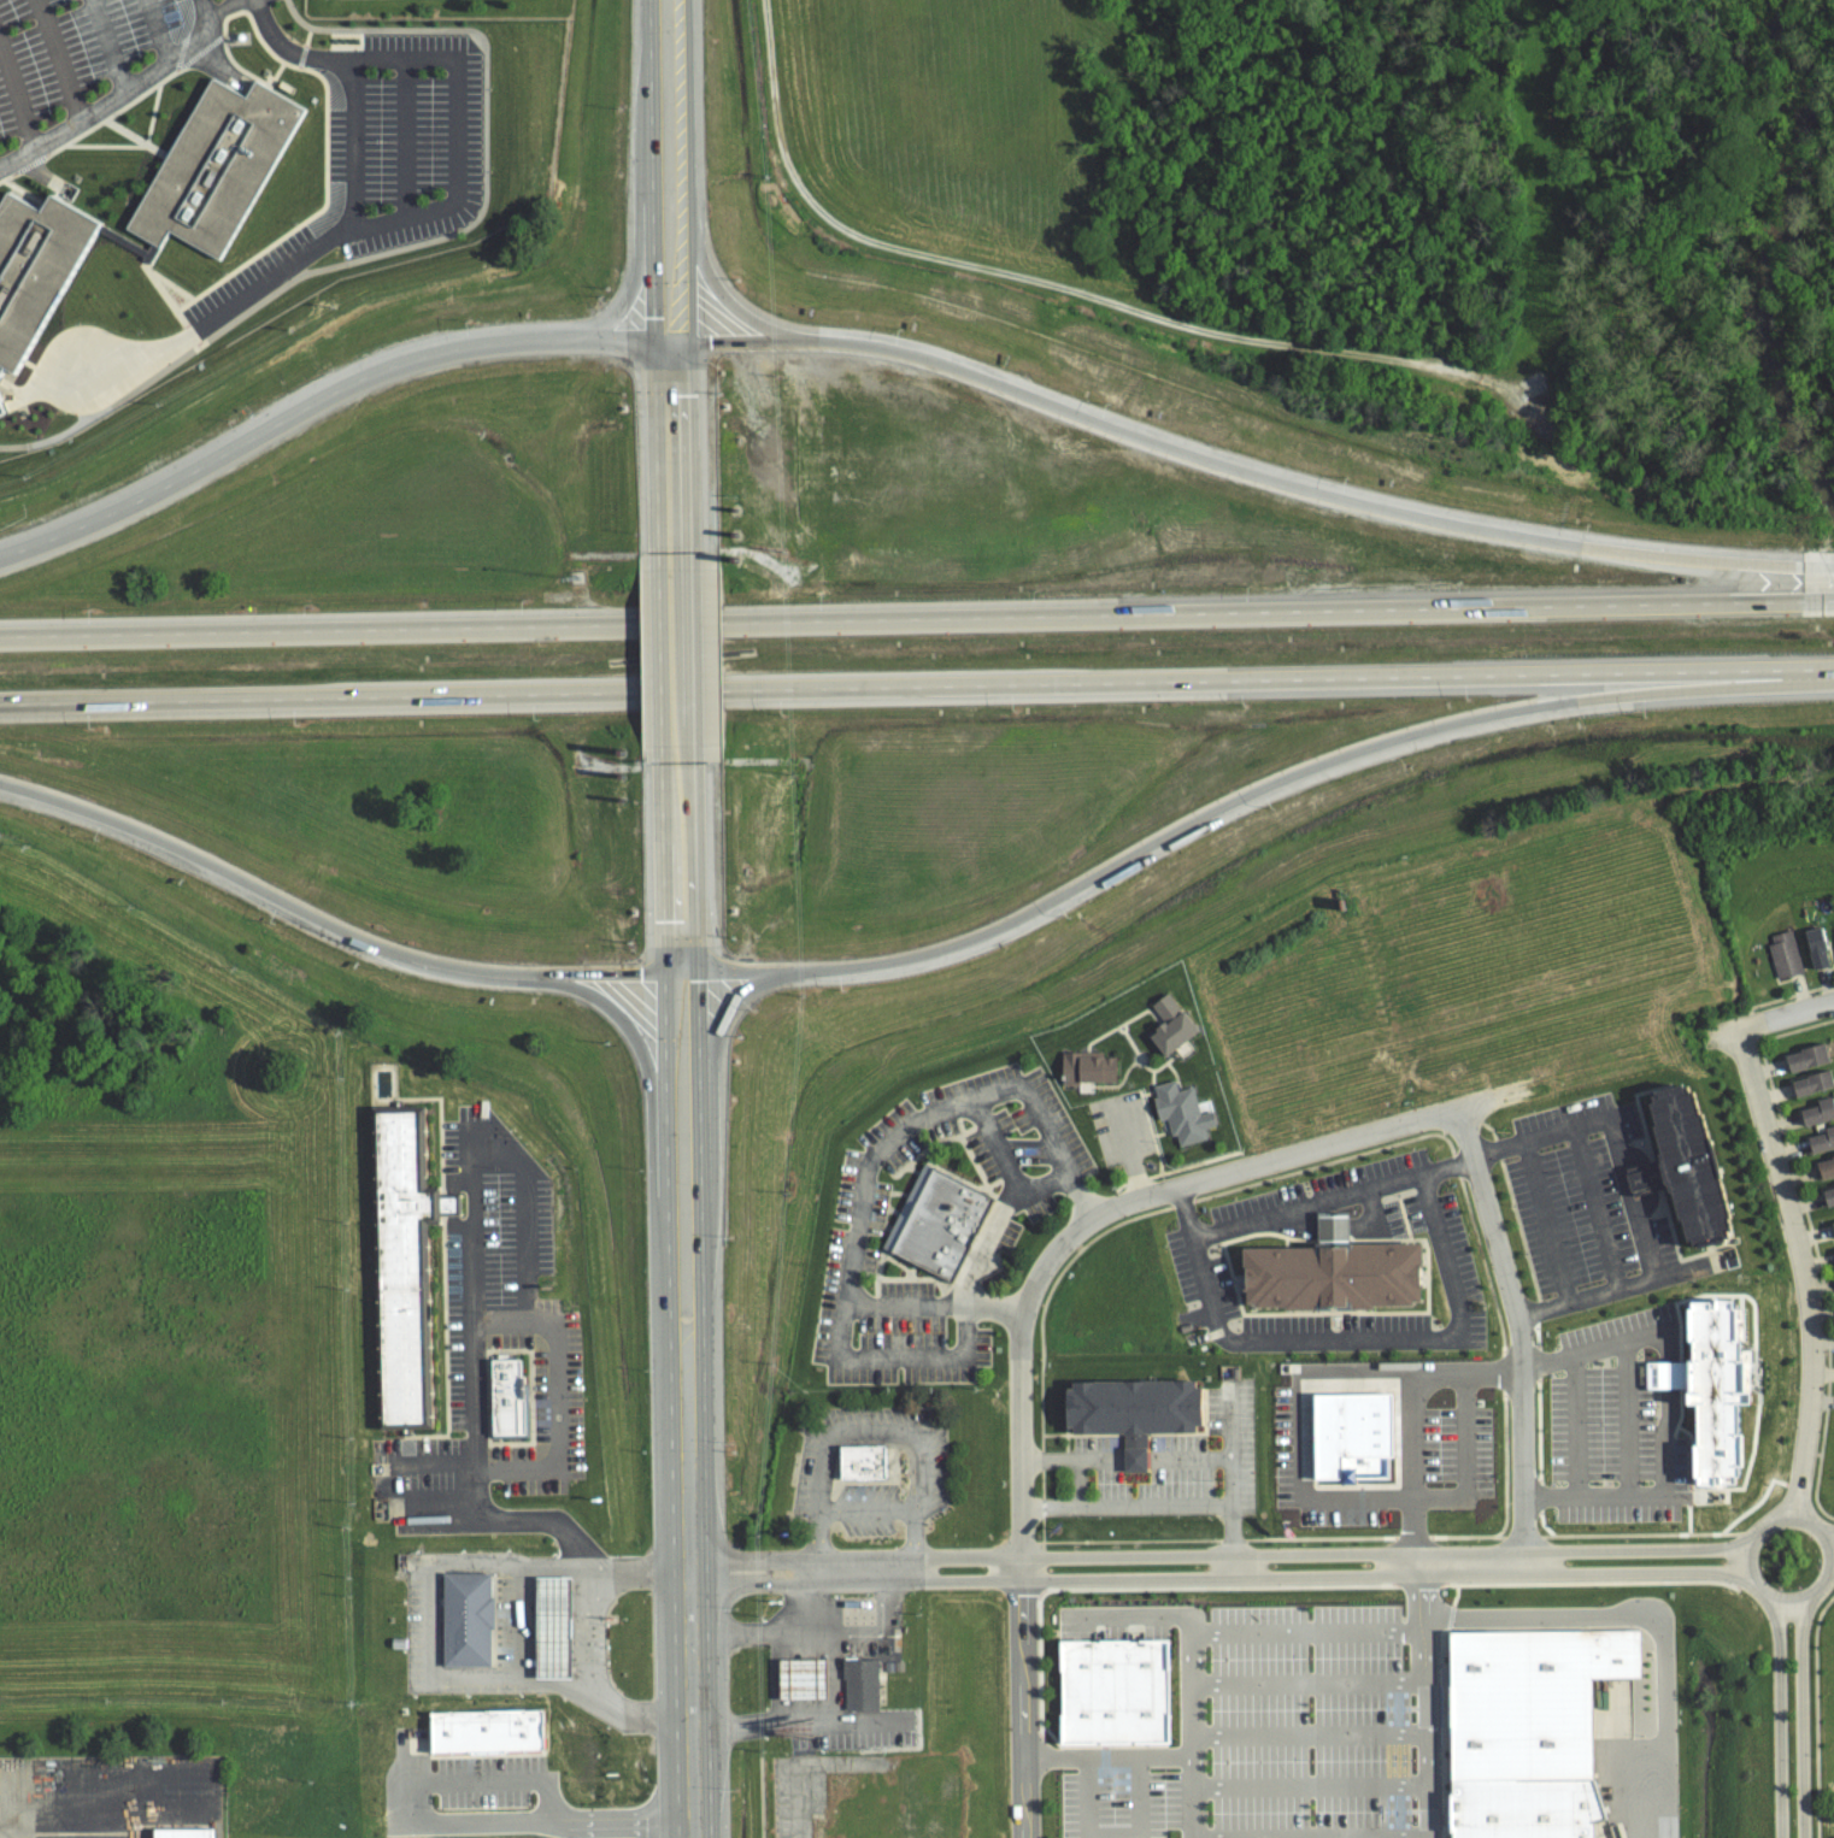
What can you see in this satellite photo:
road: (155, 30)
road: (111, 43)
parking lot: (87, 58)
road: (61, 59)
road: (19, 90)
road: (119, 94)
road: (351, 146)
building: (219, 164)
road: (452, 205)
building: (37, 266)
road: (654, 277)
road: (688, 277)
road: (1058, 284)
road: (630, 294)
road: (380, 373)
road: (1218, 464)
road: (1829, 567)
road: (917, 618)
road: (664, 647)
road: (692, 647)
road: (916, 685)
road: (1253, 791)
road: (337, 927)
building: (1817, 944)
building: (1783, 950)
traffic signals: (700, 970)
traffic signals: (666, 973)
road: (723, 1018)
road: (1771, 1020)
building: (1176, 1025)
road: (1122, 1031)
road: (634, 1032)
road: (1101, 1036)
building: (1810, 1055)
building: (1088, 1067)
road: (1172, 1070)
road: (1153, 1073)
building: (1812, 1083)
road: (1117, 1085)
building: (1187, 1109)
building: (1820, 1111)
road: (1151, 1133)
road: (1164, 1133)
building: (1824, 1139)
road: (994, 1141)
road: (1497, 1147)
road: (1128, 1149)
road: (875, 1151)
road: (1613, 1161)
road: (1447, 1162)
building: (1687, 1162)
road: (1200, 1164)
building: (1827, 1166)
road: (1139, 1180)
building: (1829, 1194)
road: (1081, 1195)
road: (1594, 1206)
road: (1181, 1210)
road: (1103, 1212)
road: (527, 1214)
building: (939, 1217)
road: (1375, 1218)
road: (1000, 1220)
road: (1546, 1220)
building: (1833, 1220)
road: (1293, 1221)
road: (1336, 1229)
building: (1832, 1229)
building: (410, 1263)
building: (1339, 1271)
road: (1800, 1271)
road: (704, 1286)
road: (671, 1288)
road: (1605, 1291)
road: (1458, 1295)
road: (994, 1307)
road: (1515, 1336)
road: (1622, 1342)
road: (899, 1357)
road: (1535, 1361)
road: (471, 1389)
building: (511, 1394)
building: (1709, 1394)
road: (554, 1395)
building: (1141, 1407)
road: (1627, 1419)
road: (1667, 1424)
road: (1575, 1428)
road: (1417, 1430)
road: (857, 1432)
building: (1350, 1436)
road: (1138, 1453)
road: (1193, 1453)
road: (1074, 1454)
building: (872, 1460)
road: (433, 1463)
road: (1078, 1479)
road: (1234, 1483)
road: (1536, 1497)
road: (1612, 1497)
road: (1128, 1504)
road: (868, 1507)
road: (439, 1510)
road: (1756, 1530)
road: (1830, 1545)
road: (1210, 1555)
road: (476, 1560)
road: (631, 1569)
road: (1210, 1578)
road: (1635, 1606)
building: (472, 1616)
road: (522, 1622)
building: (559, 1624)
gas station: (559, 1624)
road: (778, 1625)
road: (1248, 1633)
building: (899, 1637)
building: (801, 1675)
gas station: (807, 1675)
road: (1307, 1681)
building: (860, 1685)
building: (1536, 1691)
building: (1113, 1693)
road: (1024, 1709)
road: (1777, 1719)
road: (1799, 1719)
road: (827, 1720)
road: (1424, 1722)
road: (1309, 1733)
building: (516, 1737)
building: (418, 1746)
road: (1109, 1756)
road: (800, 1779)
road: (1310, 1786)
road: (1193, 1797)
building: (1536, 1802)
road: (52, 1810)
road: (442, 1825)
building: (183, 1833)
road: (1113, 1834)

